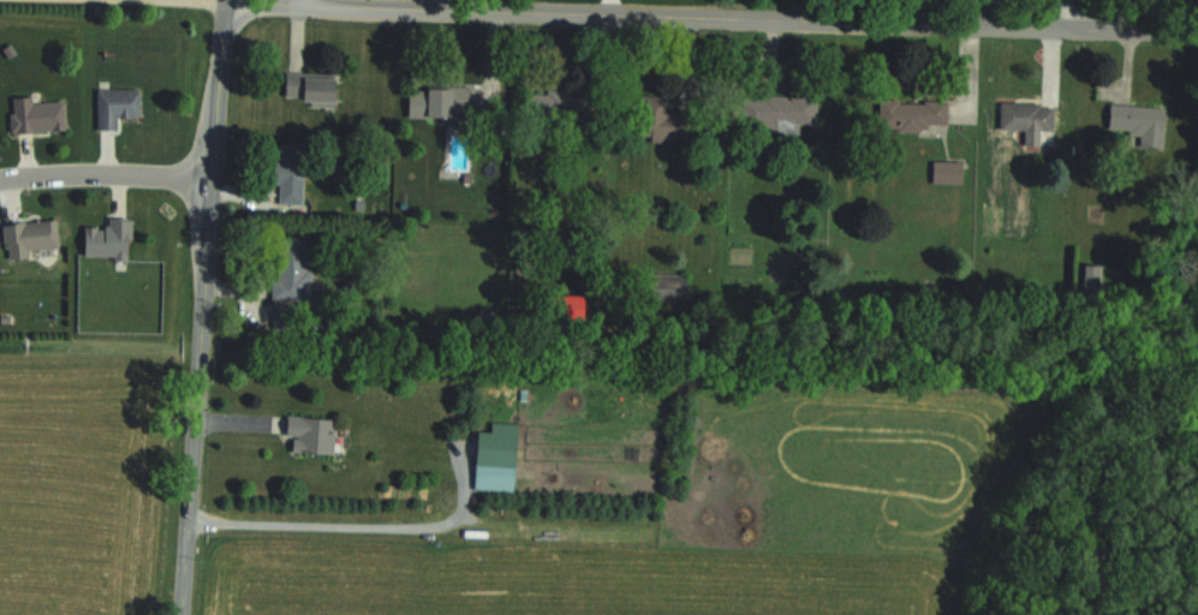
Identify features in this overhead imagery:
road: (228, 1)
road: (150, 2)
road: (1055, 14)
road: (713, 18)
building: (315, 90)
building: (445, 103)
building: (121, 107)
building: (556, 109)
building: (780, 114)
building: (925, 114)
building: (42, 117)
building: (1031, 117)
building: (666, 123)
building: (1137, 125)
road: (107, 173)
building: (294, 177)
building: (34, 239)
building: (113, 240)
building: (296, 269)
road: (204, 307)
building: (288, 318)
building: (316, 435)
building: (499, 447)
road: (329, 523)

